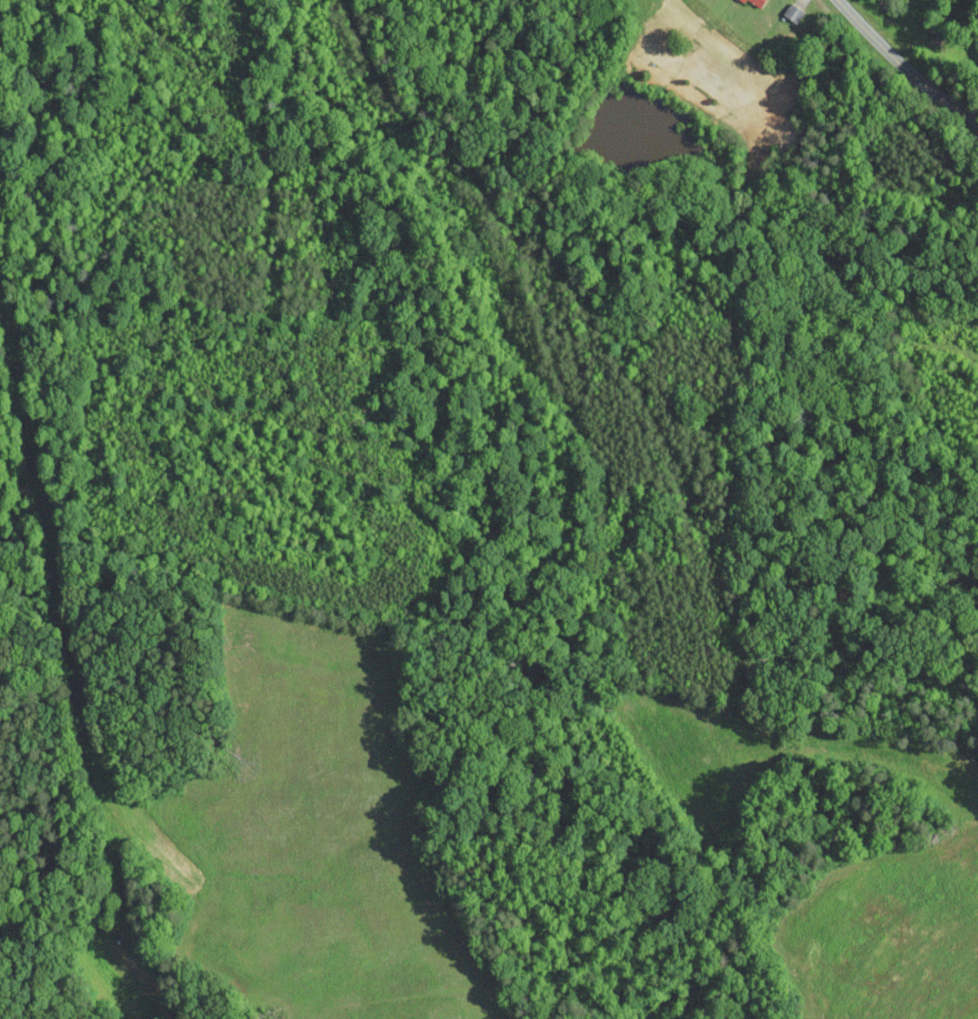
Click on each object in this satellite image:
building: (756, 2)
road: (903, 65)

